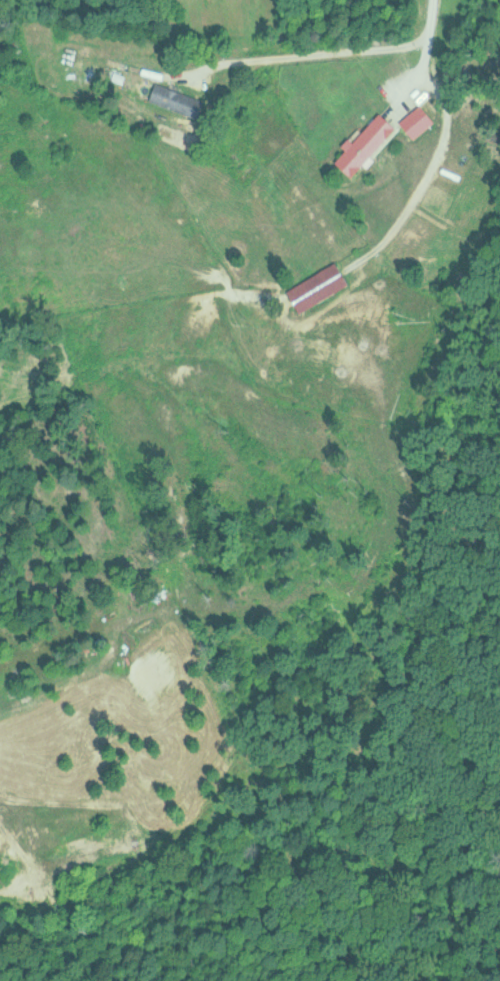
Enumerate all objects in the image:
road: (426, 53)
road: (300, 55)
building: (176, 99)
building: (417, 120)
building: (365, 144)
building: (318, 286)

